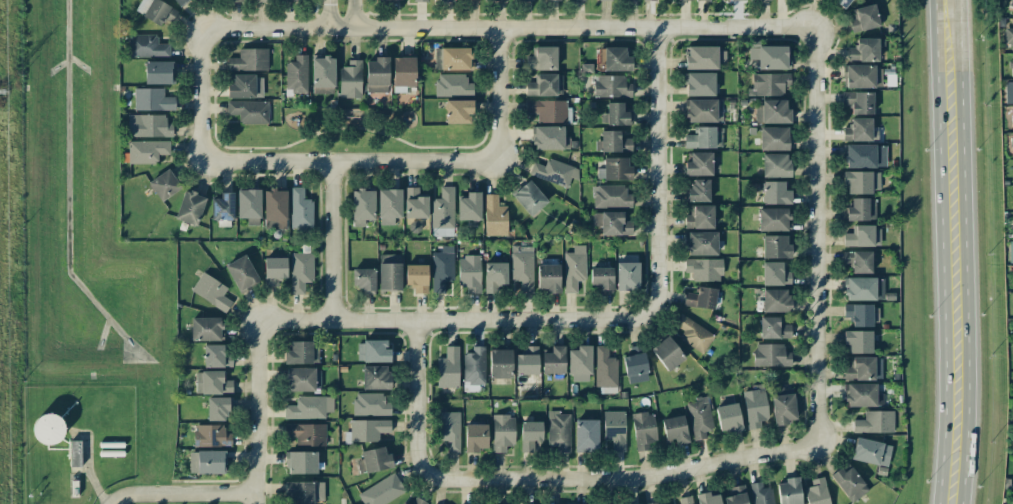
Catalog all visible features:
building: (291, 0)
building: (420, 0)
building: (472, 0)
building: (525, 0)
building: (552, 0)
building: (579, 0)
building: (600, 0)
building: (649, 0)
building: (684, 0)
building: (738, 0)
building: (235, 1)
building: (262, 1)
building: (447, 1)
building: (179, 2)
building: (842, 2)
building: (156, 11)
road: (328, 15)
road: (355, 15)
building: (864, 18)
road: (510, 28)
building: (1008, 36)
building: (146, 46)
building: (863, 50)
building: (770, 56)
building: (704, 57)
building: (453, 58)
building: (542, 58)
building: (613, 59)
building: (249, 60)
building: (1011, 65)
building: (158, 72)
building: (403, 73)
building: (296, 74)
building: (322, 75)
building: (377, 75)
building: (863, 76)
building: (350, 79)
building: (700, 84)
building: (768, 84)
building: (453, 85)
building: (545, 85)
building: (245, 86)
building: (611, 86)
road: (497, 92)
building: (1008, 92)
road: (201, 96)
building: (152, 99)
building: (858, 102)
building: (547, 110)
building: (704, 110)
building: (249, 111)
building: (458, 111)
building: (772, 111)
building: (616, 114)
building: (1011, 118)
building: (148, 126)
road: (659, 128)
building: (859, 130)
building: (550, 138)
building: (704, 138)
building: (773, 138)
building: (614, 141)
building: (1011, 145)
building: (146, 151)
building: (865, 155)
road: (349, 161)
building: (699, 164)
building: (775, 165)
building: (615, 169)
building: (554, 172)
building: (862, 181)
building: (164, 185)
building: (697, 191)
building: (775, 193)
building: (611, 196)
building: (529, 198)
building: (414, 204)
building: (389, 205)
building: (248, 206)
building: (362, 206)
building: (190, 207)
building: (222, 207)
building: (469, 207)
building: (275, 209)
building: (861, 209)
building: (300, 210)
building: (442, 212)
building: (494, 216)
building: (699, 217)
building: (773, 219)
building: (612, 223)
road: (816, 236)
building: (863, 236)
road: (331, 242)
building: (701, 243)
building: (775, 246)
building: (1010, 251)
road: (934, 252)
road: (963, 252)
building: (858, 261)
building: (522, 267)
building: (442, 268)
building: (574, 268)
building: (274, 269)
building: (703, 269)
building: (300, 271)
building: (389, 272)
building: (241, 273)
building: (469, 273)
building: (775, 273)
building: (494, 275)
building: (627, 276)
building: (417, 277)
building: (548, 278)
building: (602, 278)
building: (364, 279)
building: (860, 288)
building: (211, 291)
building: (700, 298)
building: (776, 300)
building: (858, 314)
road: (418, 322)
building: (206, 328)
building: (773, 328)
building: (693, 333)
building: (857, 341)
building: (375, 351)
building: (302, 352)
building: (667, 353)
building: (216, 355)
building: (770, 355)
building: (554, 360)
building: (527, 361)
building: (500, 363)
building: (580, 363)
building: (635, 365)
building: (474, 366)
building: (604, 367)
building: (448, 368)
building: (864, 368)
building: (1012, 375)
building: (375, 377)
building: (303, 379)
building: (212, 383)
building: (863, 395)
road: (418, 399)
building: (370, 404)
building: (309, 407)
building: (754, 407)
building: (217, 408)
building: (782, 409)
building: (699, 417)
building: (728, 418)
building: (874, 422)
building: (48, 429)
building: (368, 429)
building: (449, 429)
building: (614, 429)
building: (643, 429)
building: (674, 429)
building: (558, 430)
building: (502, 432)
building: (306, 433)
building: (586, 434)
building: (211, 435)
building: (530, 435)
building: (475, 437)
building: (871, 452)
building: (74, 453)
building: (374, 460)
building: (210, 462)
building: (302, 462)
road: (624, 477)
building: (849, 483)
building: (382, 490)
building: (305, 491)
building: (789, 491)
building: (816, 492)
road: (180, 493)
building: (760, 494)
building: (736, 496)
road: (254, 498)
building: (707, 498)
building: (686, 500)
building: (417, 501)
building: (401, 503)
building: (638, 503)
building: (652, 503)

